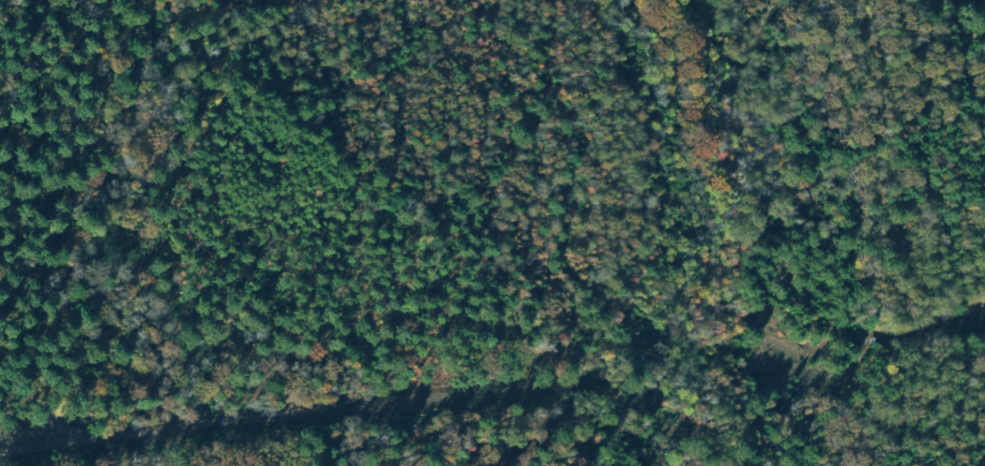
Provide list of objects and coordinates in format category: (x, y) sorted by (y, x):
road: (392, 354)

